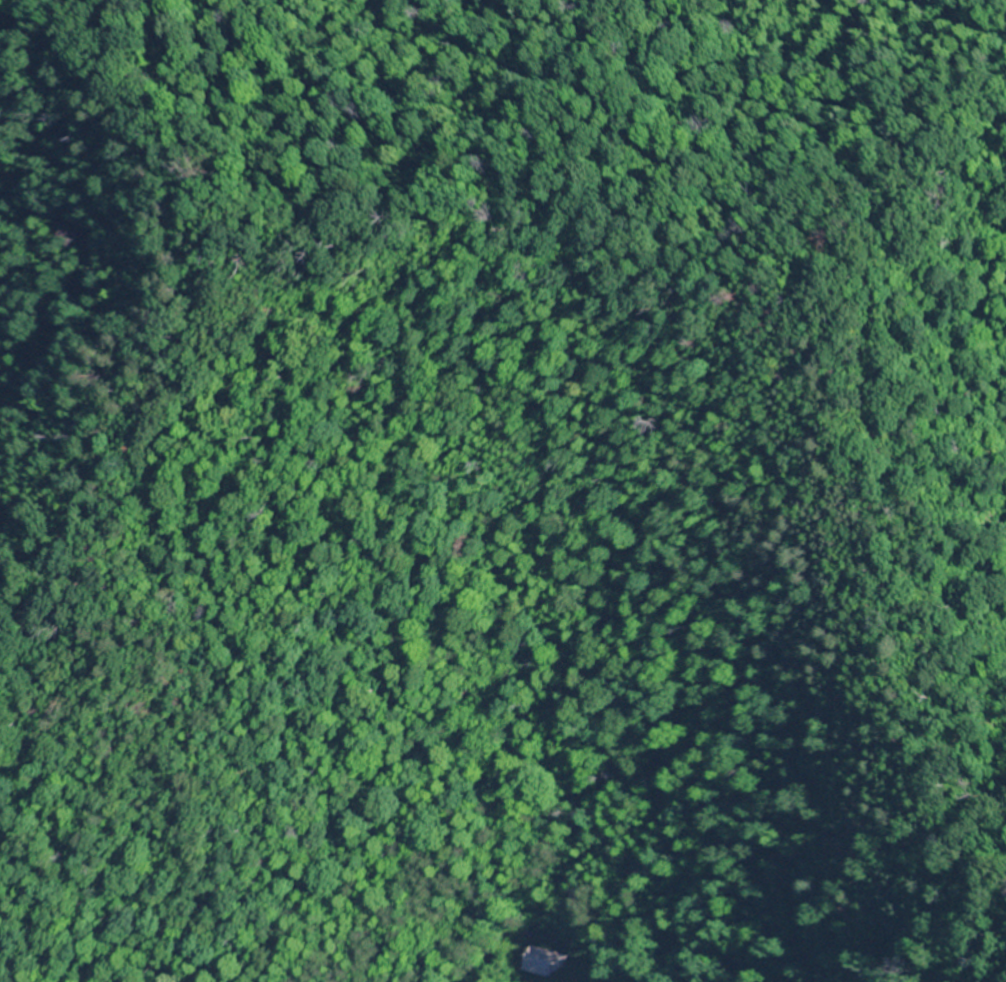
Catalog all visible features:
building: (539, 962)

